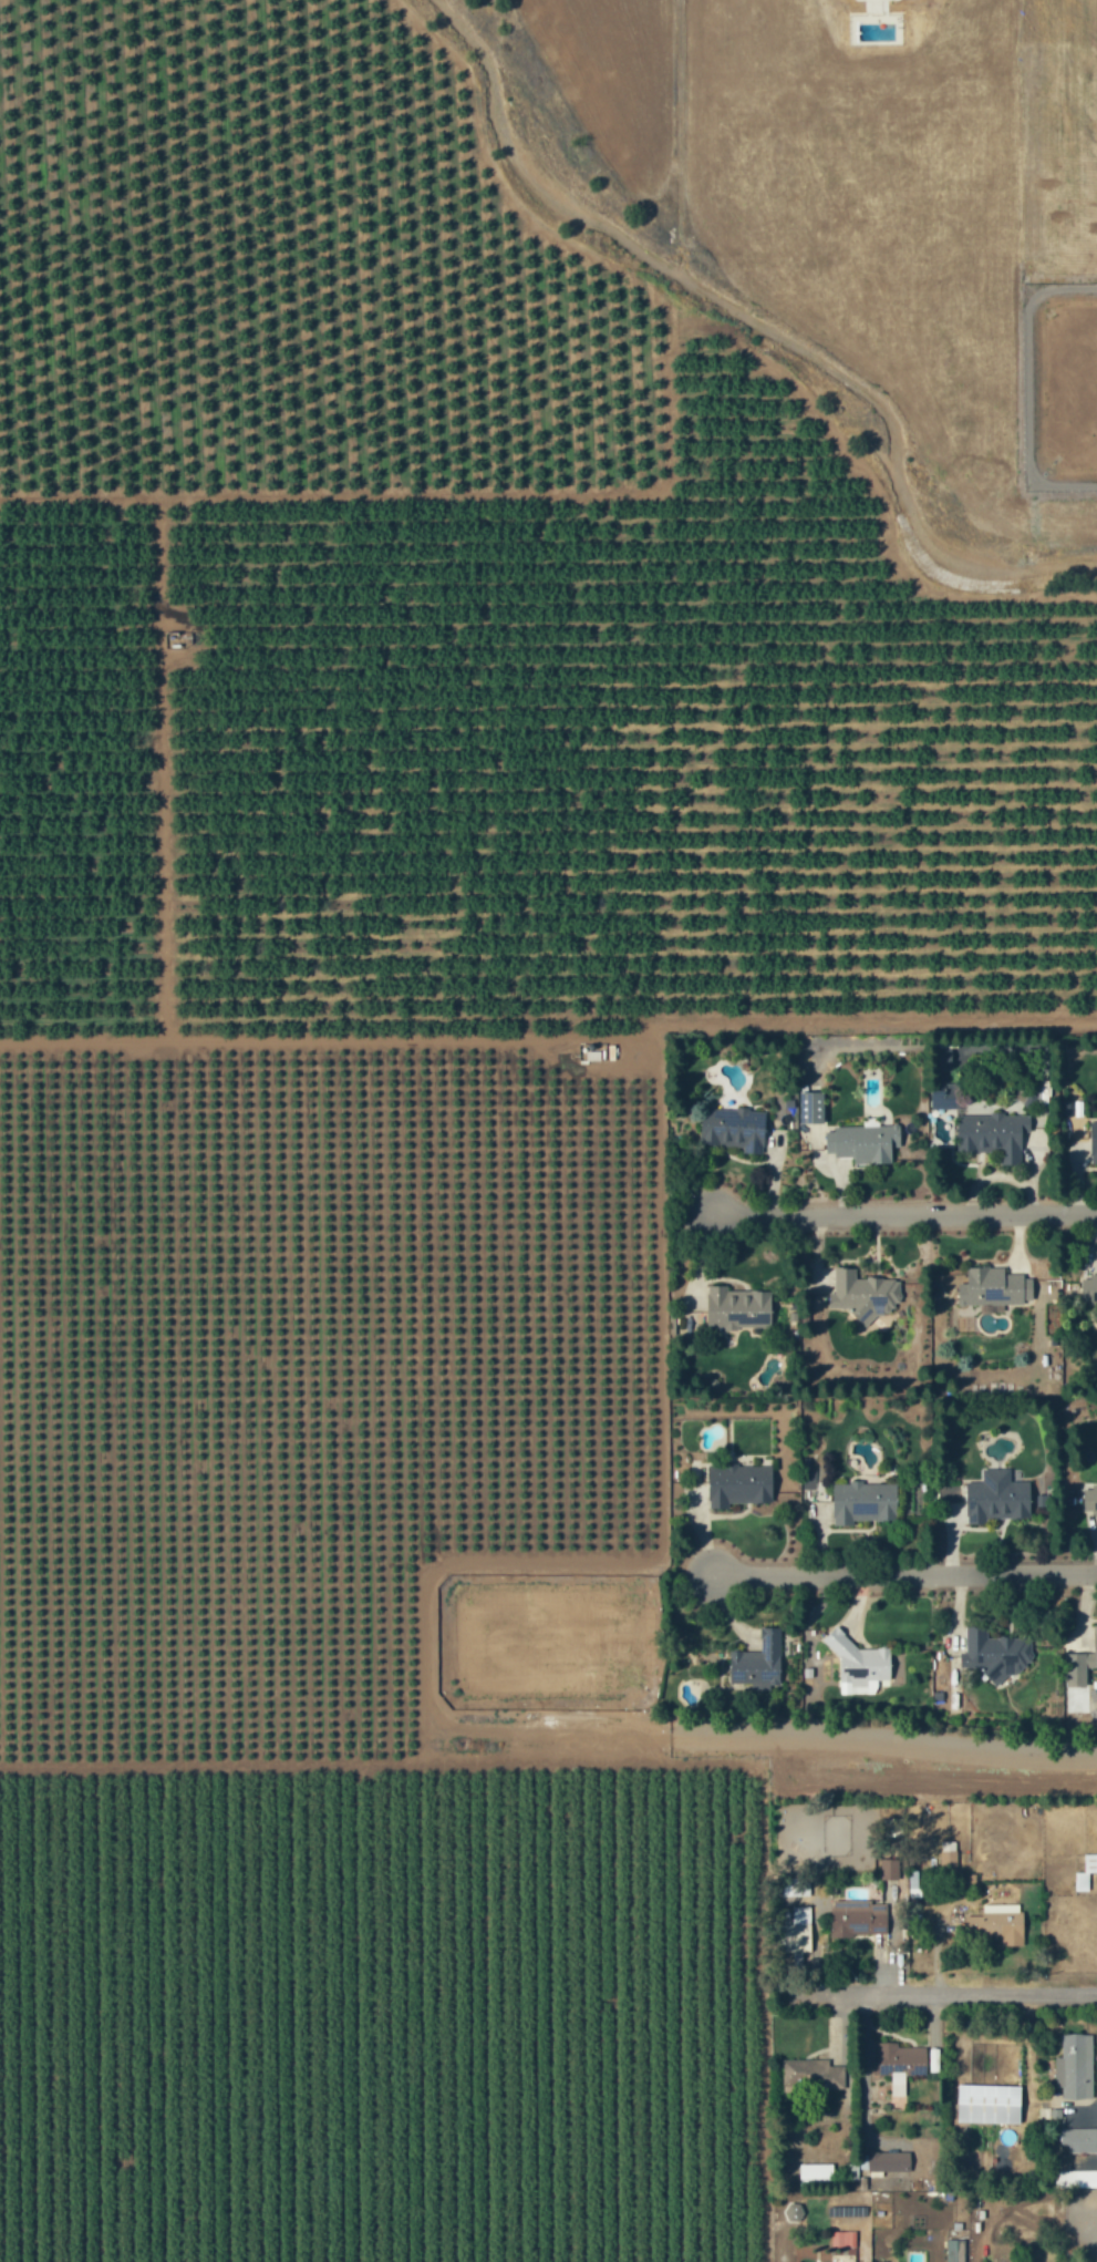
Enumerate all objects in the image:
building: (811, 1108)
building: (734, 1129)
building: (992, 1137)
building: (865, 1142)
building: (1094, 1142)
road: (899, 1210)
building: (994, 1287)
building: (1088, 1287)
building: (863, 1295)
building: (737, 1308)
building: (739, 1485)
building: (997, 1498)
building: (1091, 1499)
building: (865, 1502)
road: (902, 1570)
building: (995, 1654)
building: (758, 1663)
building: (860, 1666)
building: (1079, 1666)
road: (882, 1736)
building: (889, 1821)
building: (944, 1840)
building: (1088, 1857)
building: (944, 1858)
building: (884, 1863)
building: (1078, 1875)
building: (910, 1879)
building: (791, 1880)
building: (884, 1881)
building: (852, 1912)
building: (992, 1916)
building: (790, 1925)
road: (986, 1989)
building: (896, 2054)
building: (1072, 2060)
building: (809, 2069)
building: (893, 2079)
building: (984, 2098)
building: (1076, 2134)
building: (860, 2156)
building: (884, 2156)
building: (847, 2167)
building: (871, 2168)
building: (811, 2169)
building: (851, 2171)
building: (1074, 2172)
building: (794, 2212)
building: (844, 2240)

